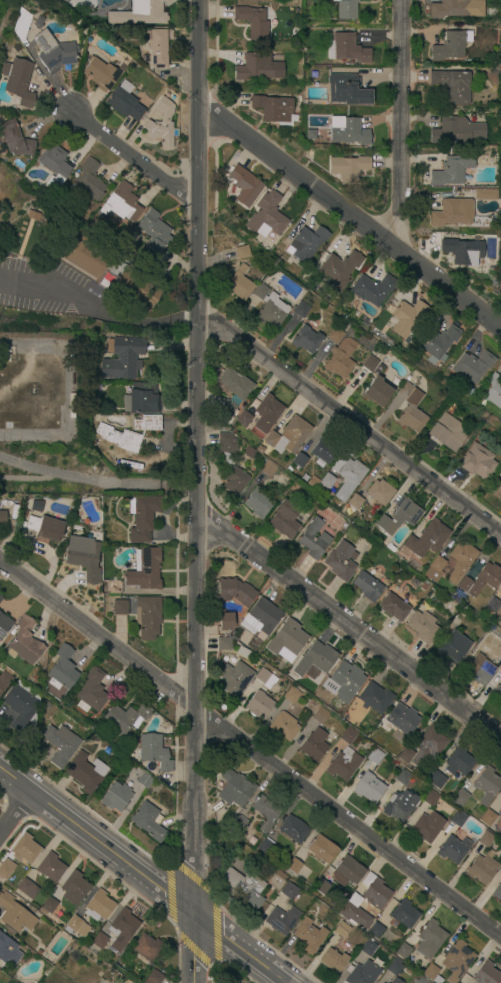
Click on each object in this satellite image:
building: (65, 1)
building: (346, 8)
building: (450, 9)
building: (141, 13)
building: (39, 22)
building: (252, 22)
building: (21, 25)
building: (450, 45)
building: (156, 47)
building: (347, 49)
building: (53, 52)
building: (253, 67)
building: (100, 73)
building: (18, 81)
building: (452, 85)
building: (346, 90)
building: (124, 101)
building: (272, 108)
building: (161, 124)
road: (402, 127)
building: (347, 130)
building: (456, 130)
building: (310, 134)
building: (15, 139)
building: (54, 160)
road: (137, 161)
building: (349, 167)
building: (452, 170)
building: (88, 181)
building: (244, 185)
building: (485, 194)
building: (121, 203)
building: (451, 212)
building: (32, 216)
building: (265, 216)
road: (351, 218)
building: (155, 232)
road: (26, 240)
building: (306, 242)
building: (462, 251)
building: (241, 253)
building: (107, 268)
building: (338, 268)
building: (238, 283)
building: (500, 288)
building: (371, 289)
parking lot: (57, 294)
road: (90, 295)
building: (269, 307)
building: (300, 310)
building: (406, 317)
road: (163, 319)
building: (335, 335)
building: (305, 339)
building: (436, 340)
building: (388, 353)
building: (7, 355)
building: (123, 357)
building: (340, 358)
building: (374, 365)
building: (471, 366)
building: (234, 383)
building: (395, 383)
building: (493, 391)
building: (376, 392)
road: (66, 393)
building: (142, 398)
building: (70, 406)
building: (227, 408)
building: (410, 408)
building: (266, 413)
building: (242, 420)
building: (147, 424)
road: (350, 425)
building: (7, 426)
building: (447, 432)
building: (288, 436)
building: (119, 438)
building: (225, 447)
building: (324, 450)
building: (252, 451)
building: (299, 460)
building: (476, 461)
building: (267, 468)
building: (346, 475)
building: (500, 475)
road: (28, 479)
building: (233, 480)
road: (98, 481)
building: (326, 481)
building: (311, 482)
building: (295, 488)
road: (198, 491)
building: (323, 491)
building: (380, 492)
building: (497, 492)
building: (353, 502)
building: (257, 503)
building: (398, 516)
building: (2, 518)
building: (142, 518)
building: (284, 519)
building: (45, 527)
building: (313, 539)
building: (426, 539)
building: (84, 561)
building: (340, 561)
building: (460, 561)
building: (144, 569)
building: (434, 569)
building: (477, 582)
building: (413, 583)
building: (366, 586)
building: (423, 587)
building: (113, 588)
building: (235, 591)
building: (0, 597)
building: (409, 599)
building: (492, 605)
building: (393, 607)
building: (120, 608)
building: (262, 616)
building: (147, 618)
building: (225, 621)
building: (4, 624)
building: (422, 629)
road: (351, 630)
building: (286, 639)
building: (24, 642)
building: (489, 642)
building: (223, 644)
building: (452, 647)
building: (318, 659)
building: (61, 669)
building: (479, 669)
building: (235, 678)
building: (265, 678)
building: (5, 679)
building: (346, 680)
building: (497, 691)
building: (91, 692)
building: (291, 695)
building: (374, 698)
building: (45, 705)
building: (258, 705)
building: (19, 708)
building: (320, 716)
building: (124, 719)
building: (401, 719)
building: (357, 724)
building: (283, 727)
building: (347, 736)
building: (60, 744)
building: (314, 745)
building: (428, 745)
road: (250, 751)
building: (154, 752)
building: (374, 756)
building: (403, 756)
building: (458, 762)
building: (344, 764)
building: (85, 772)
building: (402, 777)
building: (435, 779)
building: (145, 781)
building: (486, 785)
building: (234, 788)
building: (368, 788)
building: (115, 797)
building: (460, 797)
building: (430, 798)
building: (500, 804)
building: (398, 805)
building: (266, 811)
road: (16, 814)
building: (459, 818)
building: (488, 818)
building: (148, 822)
building: (498, 822)
building: (238, 825)
building: (426, 827)
building: (293, 830)
building: (486, 839)
building: (265, 847)
building: (321, 848)
building: (25, 849)
building: (453, 850)
building: (293, 866)
building: (49, 868)
building: (482, 868)
building: (6, 869)
building: (345, 869)
road: (143, 876)
road: (192, 877)
building: (245, 886)
building: (321, 887)
building: (74, 888)
building: (27, 889)
building: (289, 891)
building: (374, 892)
building: (497, 892)
road: (168, 893)
building: (49, 905)
building: (99, 906)
building: (354, 912)
building: (15, 914)
building: (402, 915)
building: (281, 920)
building: (75, 925)
building: (121, 929)
building: (342, 930)
building: (375, 931)
road: (215, 934)
building: (308, 937)
building: (429, 939)
building: (99, 941)
building: (146, 947)
building: (367, 947)
building: (8, 950)
road: (193, 951)
building: (402, 951)
building: (456, 960)
building: (333, 961)
building: (394, 966)
building: (362, 973)
building: (431, 973)
building: (486, 974)
building: (148, 979)
building: (419, 980)
building: (395, 981)
building: (380, 982)

